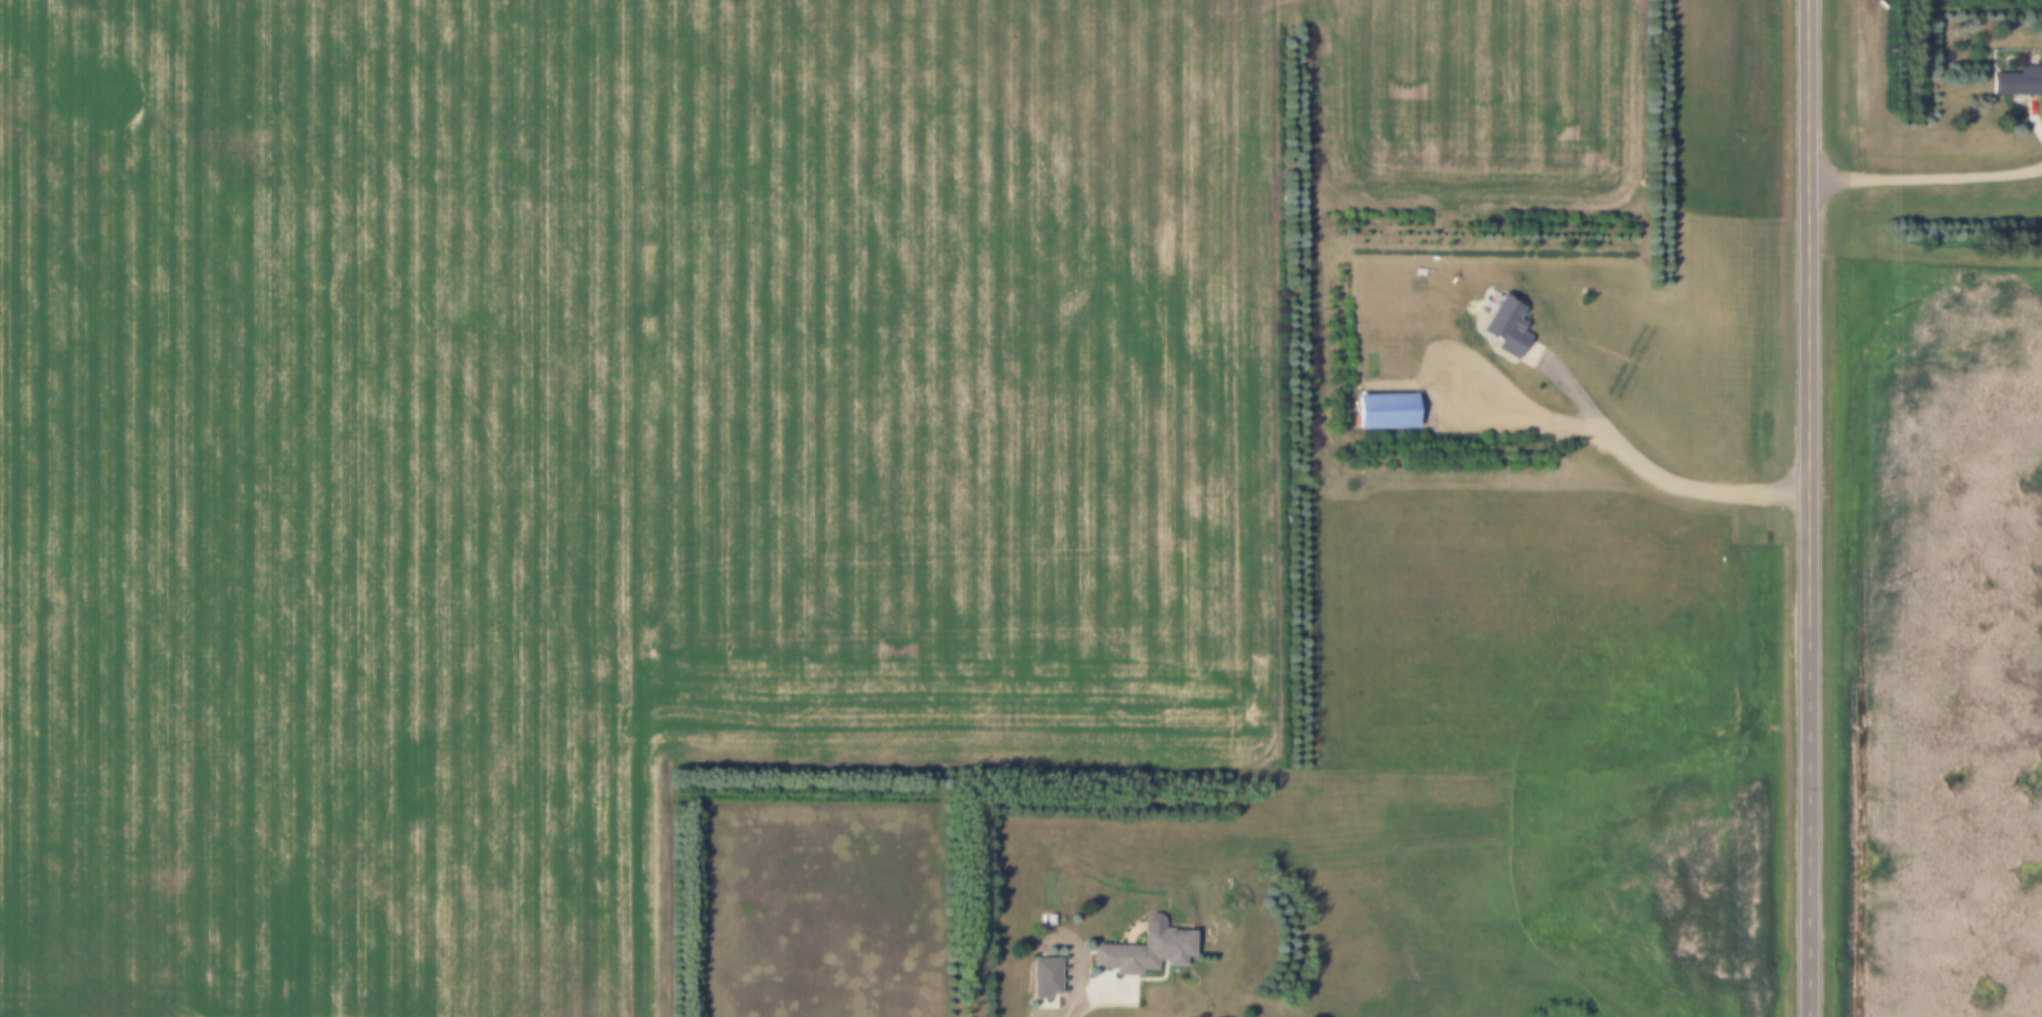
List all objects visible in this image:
building: (2018, 83)
road: (1925, 178)
building: (1512, 331)
building: (1390, 414)
road: (1806, 508)
building: (1149, 951)
building: (1049, 979)
road: (1076, 1006)

